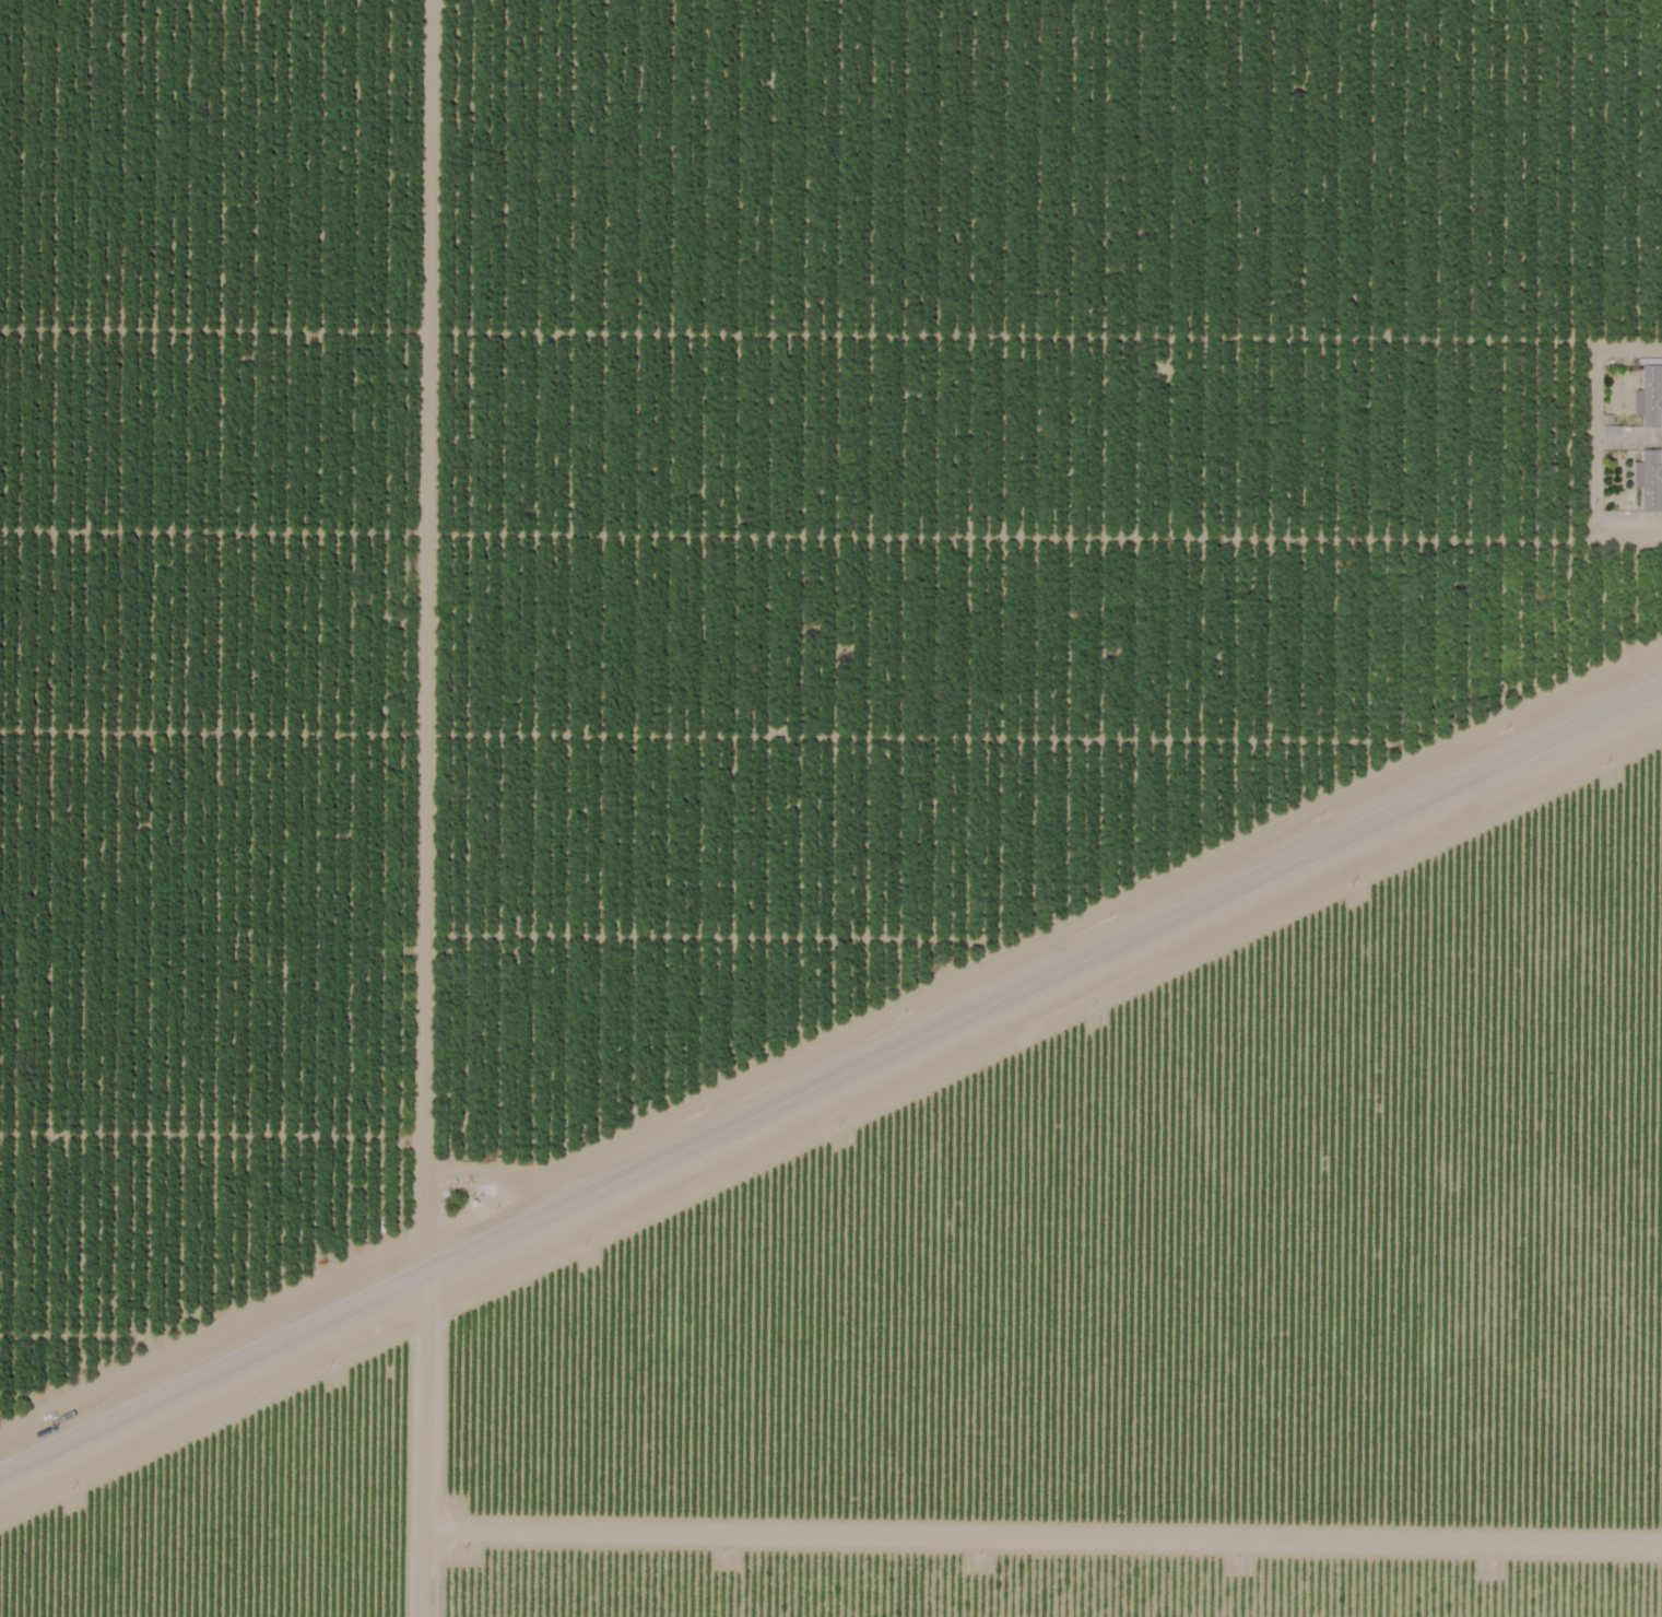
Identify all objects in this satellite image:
building: (1649, 394)
building: (1649, 479)
crop: (221, 654)
road: (830, 1083)

